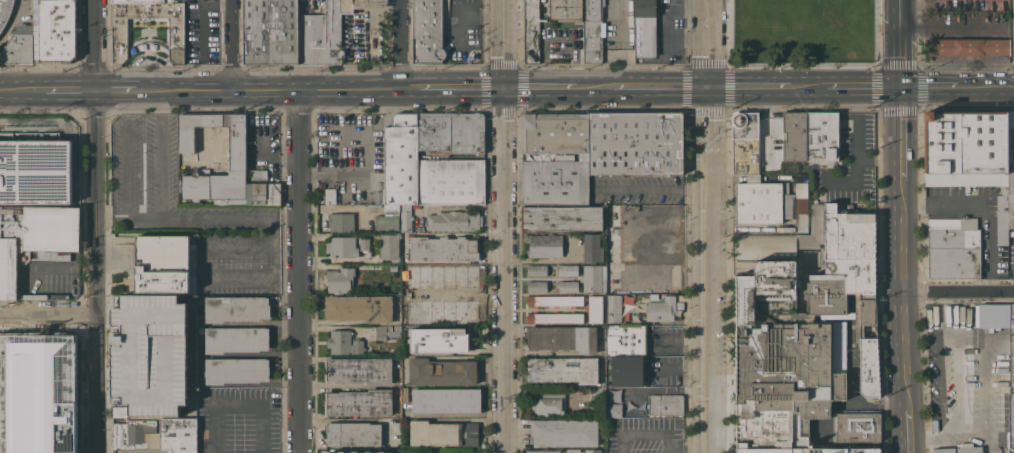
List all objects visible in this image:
building: (135, 1)
building: (566, 10)
building: (5, 12)
park: (793, 21)
road: (203, 23)
road: (948, 26)
building: (644, 28)
building: (1013, 28)
building: (53, 30)
building: (326, 30)
building: (271, 31)
building: (427, 31)
parking lot: (462, 31)
building: (531, 31)
building: (592, 31)
park: (805, 31)
building: (119, 37)
road: (402, 43)
road: (94, 45)
road: (233, 45)
building: (18, 46)
building: (968, 46)
road: (453, 86)
traffic signals: (504, 86)
road: (539, 86)
road: (594, 86)
road: (661, 86)
traffic signals: (709, 86)
road: (749, 86)
road: (808, 86)
road: (862, 86)
traffic signals: (898, 86)
road: (929, 86)
road: (987, 86)
road: (22, 89)
road: (70, 89)
road: (115, 90)
road: (269, 90)
road: (708, 94)
building: (451, 132)
building: (813, 135)
building: (745, 142)
building: (636, 143)
road: (858, 149)
building: (237, 156)
building: (973, 156)
building: (568, 157)
building: (401, 159)
road: (879, 162)
building: (34, 168)
road: (128, 173)
road: (155, 173)
building: (259, 174)
road: (353, 174)
building: (451, 181)
road: (653, 189)
building: (263, 193)
building: (330, 196)
building: (321, 199)
road: (945, 203)
building: (769, 204)
building: (391, 209)
parking lot: (188, 210)
road: (197, 216)
building: (406, 217)
building: (562, 218)
building: (453, 220)
building: (340, 222)
building: (386, 222)
road: (504, 226)
road: (901, 226)
building: (612, 233)
building: (34, 240)
building: (364, 244)
building: (544, 245)
building: (342, 246)
building: (389, 246)
building: (443, 248)
building: (592, 248)
building: (953, 248)
road: (988, 250)
building: (160, 263)
building: (393, 267)
building: (537, 270)
building: (568, 270)
road: (96, 271)
road: (299, 271)
building: (592, 278)
building: (339, 279)
building: (536, 286)
building: (568, 286)
road: (959, 291)
building: (554, 300)
building: (236, 308)
building: (359, 308)
building: (613, 308)
building: (595, 309)
building: (662, 309)
road: (48, 316)
building: (555, 318)
road: (706, 320)
building: (199, 329)
building: (801, 330)
building: (387, 331)
building: (562, 338)
building: (235, 339)
road: (118, 340)
road: (149, 340)
building: (439, 340)
parking lot: (153, 341)
road: (180, 341)
building: (344, 342)
building: (1011, 346)
building: (644, 355)
building: (563, 369)
building: (235, 370)
building: (359, 370)
building: (442, 372)
road: (329, 387)
building: (595, 393)
building: (404, 394)
building: (446, 400)
building: (359, 402)
building: (548, 404)
building: (665, 405)
road: (215, 408)
building: (614, 409)
road: (460, 416)
parking lot: (238, 420)
building: (1011, 422)
building: (858, 427)
building: (177, 428)
building: (564, 432)
building: (443, 433)
road: (639, 433)
building: (353, 434)
building: (135, 436)
building: (165, 443)
building: (183, 445)
road: (685, 446)
road: (665, 450)
building: (954, 450)
building: (430, 451)
building: (437, 451)
building: (545, 451)
building: (592, 451)
building: (354, 452)

